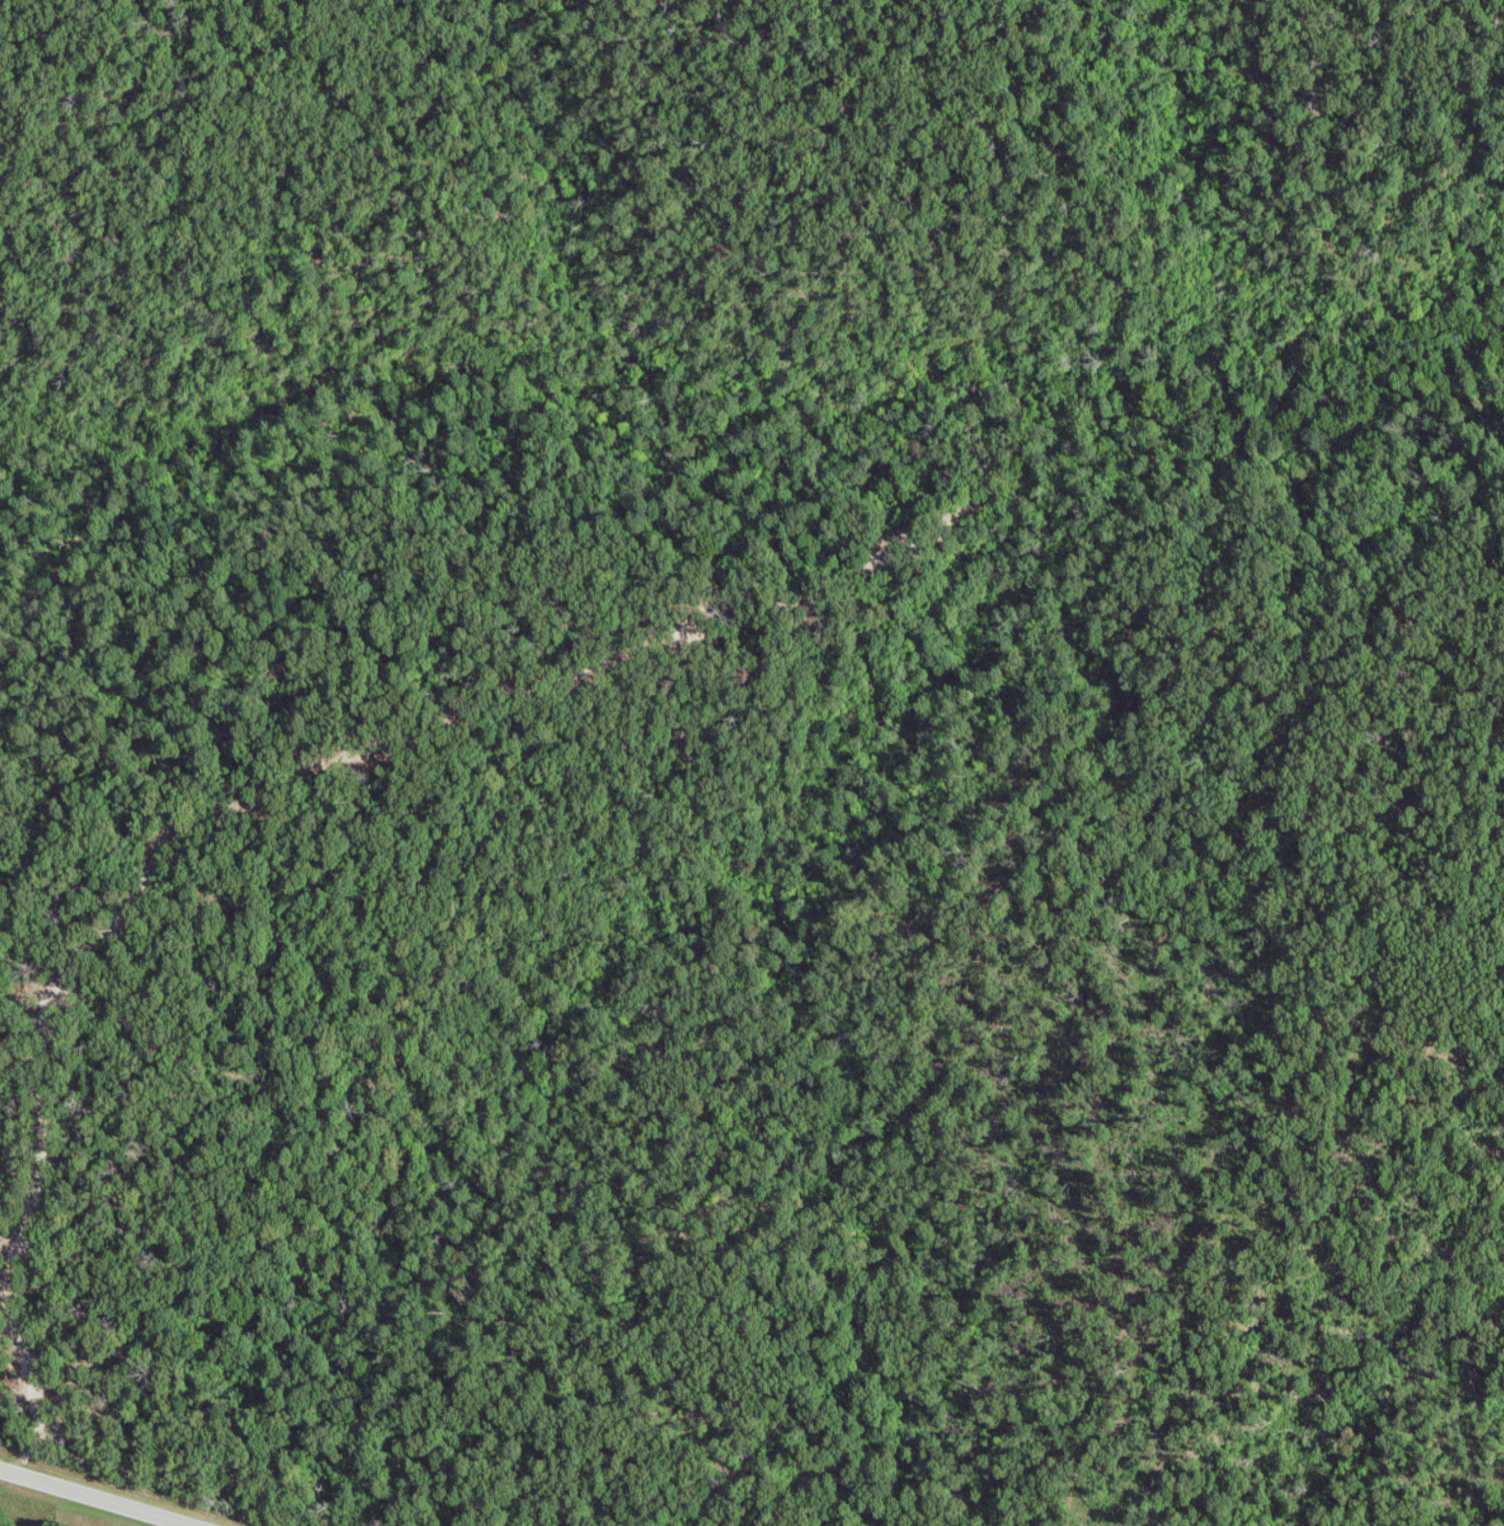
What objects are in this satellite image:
road: (93, 1498)

